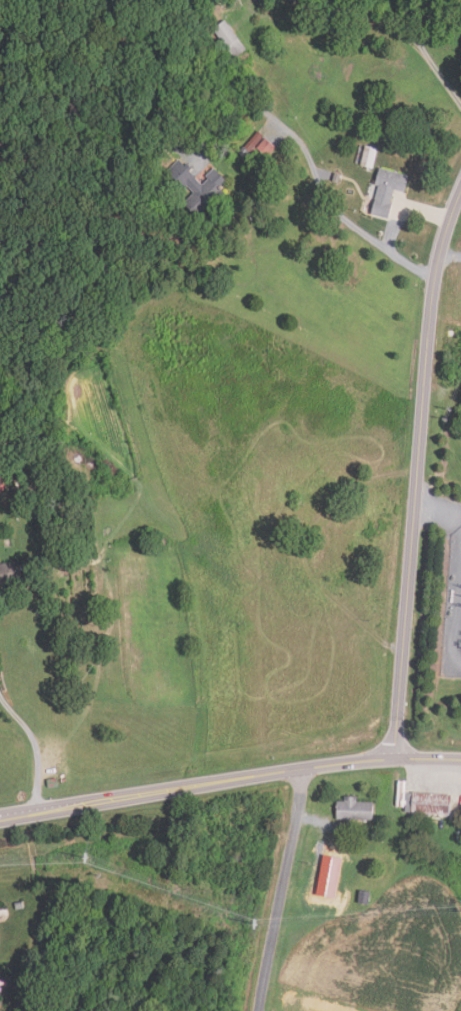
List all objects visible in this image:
road: (410, 27)
road: (396, 32)
building: (229, 40)
building: (366, 163)
road: (313, 170)
building: (184, 179)
building: (388, 191)
building: (204, 199)
road: (426, 213)
road: (451, 256)
building: (11, 473)
road: (417, 473)
building: (3, 485)
building: (11, 574)
power substation: (454, 611)
road: (33, 750)
road: (229, 777)
building: (428, 805)
building: (355, 811)
power tower: (95, 855)
road: (279, 888)
building: (365, 896)
power tower: (264, 922)

